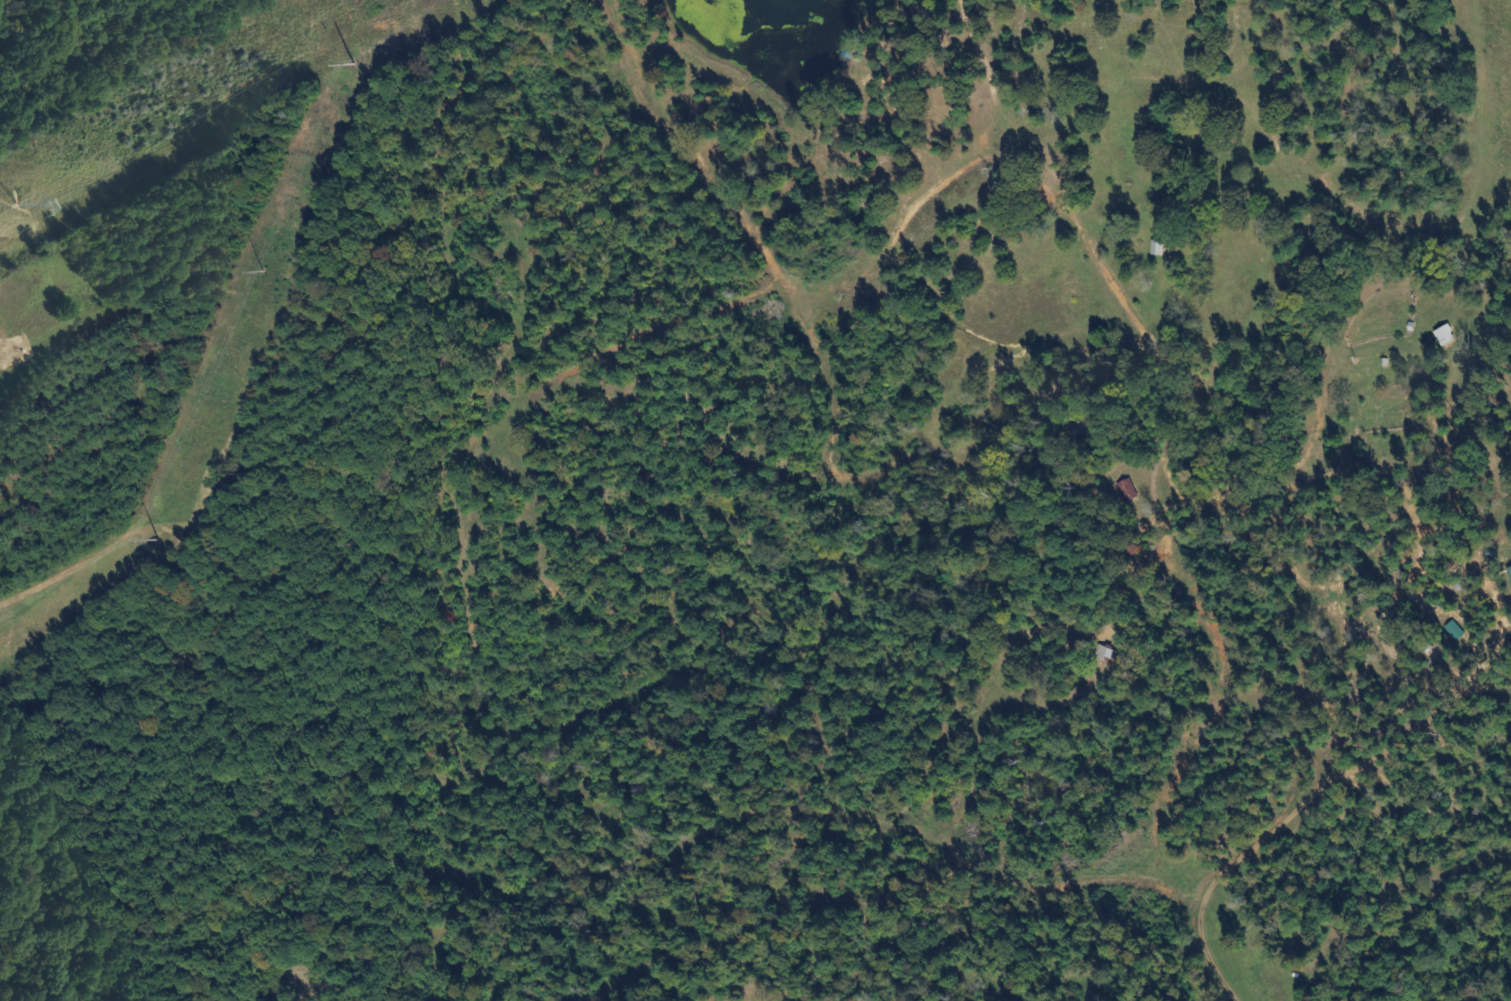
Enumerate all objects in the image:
power tower: (16, 203)
road: (1201, 558)
building: (1509, 579)

